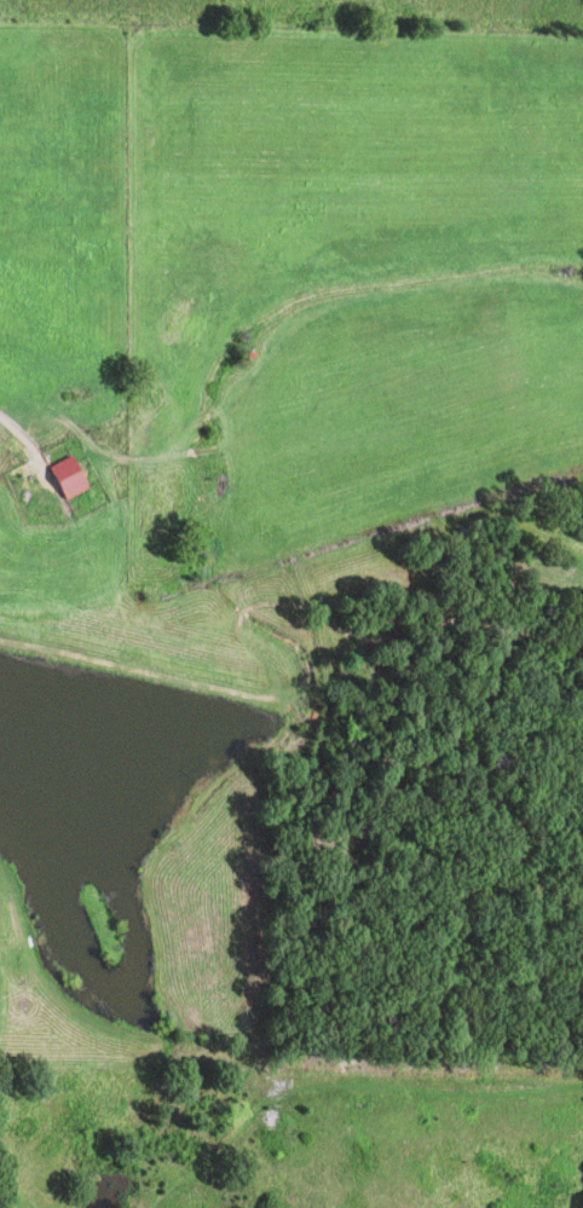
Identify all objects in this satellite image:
building: (80, 475)

